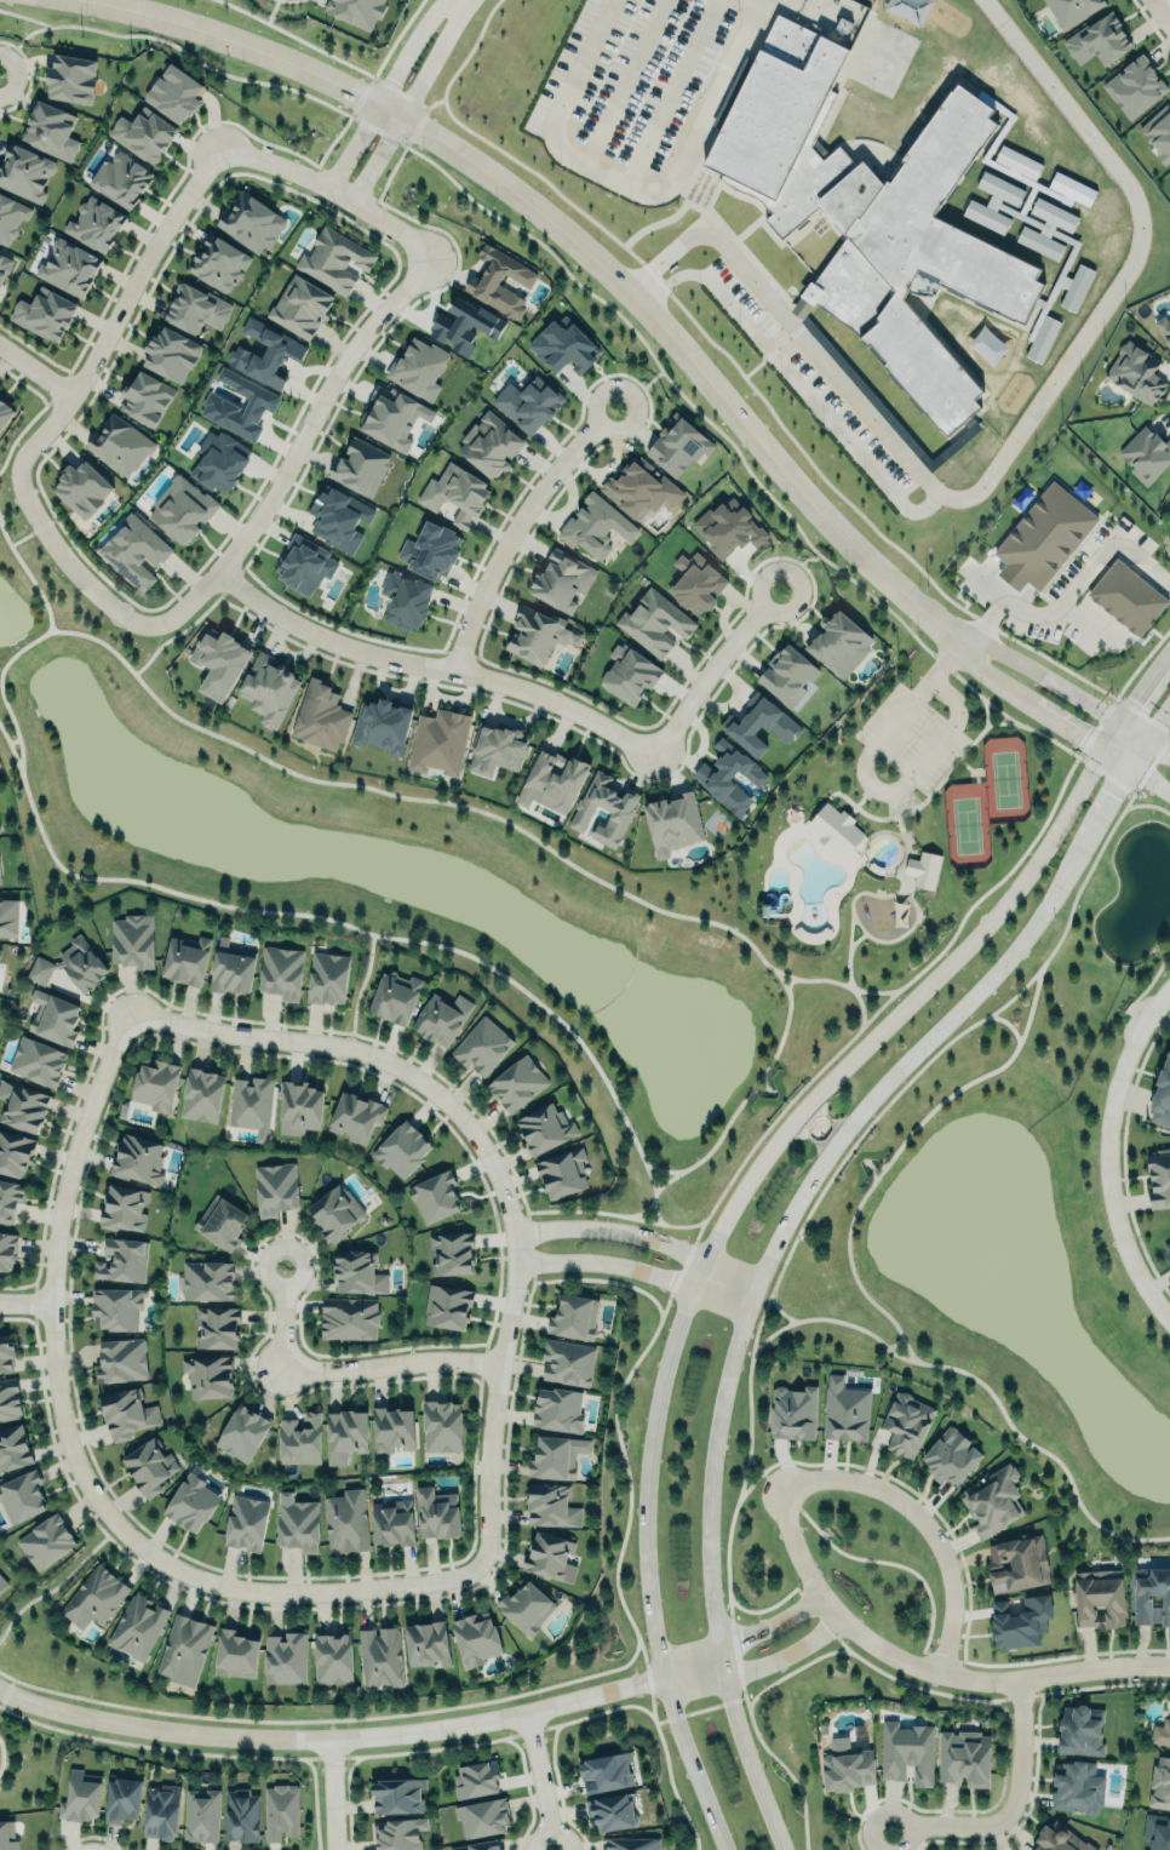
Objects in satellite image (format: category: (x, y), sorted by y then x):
building: (357, 10)
building: (1071, 10)
road: (1162, 11)
road: (268, 22)
road: (33, 31)
building: (1097, 39)
building: (71, 78)
road: (377, 80)
road: (623, 81)
building: (1135, 85)
road: (670, 91)
road: (402, 92)
building: (173, 93)
building: (51, 130)
building: (1158, 132)
building: (144, 134)
building: (24, 171)
building: (1169, 174)
building: (120, 178)
road: (335, 182)
road: (630, 182)
building: (1016, 197)
building: (870, 213)
building: (11, 218)
building: (252, 222)
building: (94, 224)
road: (570, 234)
building: (1039, 242)
building: (335, 258)
building: (219, 262)
road: (1130, 264)
building: (5, 265)
building: (69, 267)
road: (654, 269)
building: (489, 280)
road: (667, 282)
building: (1076, 287)
building: (302, 305)
building: (195, 308)
road: (116, 310)
building: (42, 311)
building: (463, 326)
building: (1164, 327)
building: (1040, 337)
building: (563, 346)
road: (811, 348)
building: (171, 353)
building: (265, 354)
building: (418, 367)
road: (36, 371)
building: (1135, 371)
road: (654, 378)
building: (147, 397)
building: (528, 402)
road: (814, 403)
building: (239, 406)
building: (5, 411)
building: (390, 417)
road: (25, 425)
road: (292, 437)
building: (120, 443)
building: (491, 443)
building: (679, 445)
building: (1145, 448)
building: (214, 456)
building: (360, 466)
building: (82, 487)
building: (640, 487)
building: (455, 488)
building: (182, 508)
building: (338, 519)
road: (511, 519)
building: (592, 526)
building: (728, 527)
building: (1043, 534)
road: (27, 535)
building: (430, 548)
building: (133, 551)
road: (813, 557)
road: (69, 559)
building: (304, 565)
road: (28, 575)
building: (563, 579)
building: (696, 583)
road: (1067, 592)
building: (402, 595)
building: (1126, 597)
building: (654, 622)
road: (188, 625)
building: (537, 634)
road: (945, 637)
building: (839, 643)
road: (710, 658)
road: (429, 660)
building: (218, 661)
road: (1031, 669)
building: (629, 674)
building: (788, 676)
building: (269, 689)
road: (1004, 689)
road: (987, 712)
building: (320, 716)
road: (1013, 720)
road: (1158, 721)
building: (759, 723)
building: (382, 726)
road: (1066, 728)
road: (16, 732)
road: (13, 740)
parking lot: (911, 740)
building: (440, 741)
road: (1158, 744)
building: (497, 748)
road: (1113, 757)
building: (727, 771)
park: (1005, 778)
road: (1148, 779)
building: (551, 780)
road: (872, 784)
road: (1115, 786)
road: (379, 790)
road: (858, 802)
road: (918, 804)
building: (621, 809)
building: (675, 820)
park: (967, 824)
building: (0, 826)
building: (837, 829)
road: (906, 853)
building: (923, 869)
water park: (804, 871)
building: (0, 874)
road: (986, 889)
road: (916, 913)
building: (8, 916)
road: (322, 917)
road: (854, 940)
building: (132, 943)
road: (849, 949)
building: (185, 960)
building: (70, 963)
building: (231, 972)
building: (281, 972)
building: (327, 976)
road: (811, 979)
road: (787, 981)
road: (360, 987)
road: (1015, 995)
building: (394, 997)
road: (861, 1006)
building: (55, 1016)
building: (441, 1019)
building: (482, 1046)
building: (34, 1058)
road: (974, 1078)
building: (155, 1083)
building: (516, 1083)
road: (765, 1087)
road: (759, 1089)
building: (202, 1094)
road: (744, 1096)
building: (1162, 1096)
building: (251, 1105)
building: (23, 1106)
building: (296, 1107)
building: (356, 1116)
road: (873, 1119)
building: (544, 1128)
road: (818, 1128)
road: (755, 1144)
building: (402, 1149)
road: (1101, 1149)
building: (15, 1152)
road: (491, 1156)
building: (137, 1159)
road: (872, 1165)
building: (562, 1173)
road: (872, 1173)
road: (648, 1174)
building: (1158, 1178)
building: (275, 1189)
road: (741, 1190)
building: (435, 1196)
building: (8, 1198)
building: (124, 1208)
road: (583, 1209)
building: (335, 1212)
road: (647, 1219)
building: (220, 1220)
road: (641, 1235)
building: (1168, 1248)
building: (7, 1250)
building: (451, 1253)
building: (122, 1259)
road: (636, 1268)
building: (357, 1272)
building: (206, 1281)
road: (752, 1295)
road: (23, 1299)
building: (114, 1305)
building: (447, 1306)
road: (778, 1308)
building: (573, 1315)
building: (350, 1319)
building: (216, 1327)
road: (894, 1344)
building: (6, 1354)
building: (121, 1361)
road: (328, 1361)
building: (564, 1362)
building: (210, 1375)
road: (981, 1382)
building: (10, 1399)
building: (791, 1407)
building: (557, 1409)
building: (844, 1409)
building: (126, 1414)
building: (906, 1425)
building: (442, 1426)
building: (394, 1428)
building: (242, 1432)
building: (345, 1434)
building: (299, 1438)
building: (13, 1447)
building: (950, 1455)
building: (556, 1456)
road: (71, 1457)
building: (149, 1466)
road: (764, 1472)
road: (749, 1487)
building: (22, 1496)
building: (996, 1501)
building: (191, 1502)
building: (551, 1506)
building: (437, 1513)
building: (345, 1522)
building: (245, 1523)
building: (392, 1523)
building: (298, 1524)
road: (919, 1530)
building: (46, 1541)
building: (549, 1554)
building: (1017, 1564)
road: (727, 1576)
road: (58, 1582)
building: (2, 1583)
building: (93, 1597)
building: (1100, 1598)
building: (1152, 1598)
building: (526, 1605)
building: (1019, 1620)
building: (137, 1626)
road: (738, 1631)
building: (475, 1639)
building: (426, 1643)
building: (183, 1649)
building: (235, 1655)
building: (282, 1657)
building: (333, 1657)
building: (380, 1657)
road: (752, 1662)
road: (923, 1672)
building: (1080, 1731)
building: (1163, 1732)
road: (331, 1734)
road: (1017, 1748)
building: (908, 1751)
building: (965, 1758)
building: (845, 1764)
road: (666, 1766)
building: (606, 1772)
building: (474, 1780)
road: (539, 1780)
building: (1160, 1783)
building: (1077, 1788)
road: (327, 1792)
building: (395, 1793)
building: (80, 1797)
building: (121, 1800)
road: (889, 1808)
building: (161, 1811)
building: (280, 1811)
building: (613, 1812)
building: (481, 1814)
building: (202, 1816)
building: (241, 1816)
road: (960, 1828)
building: (401, 1834)
building: (1160, 1835)
building: (6, 1838)
building: (1059, 1839)
building: (631, 1843)
building: (478, 1845)
road: (867, 1845)

